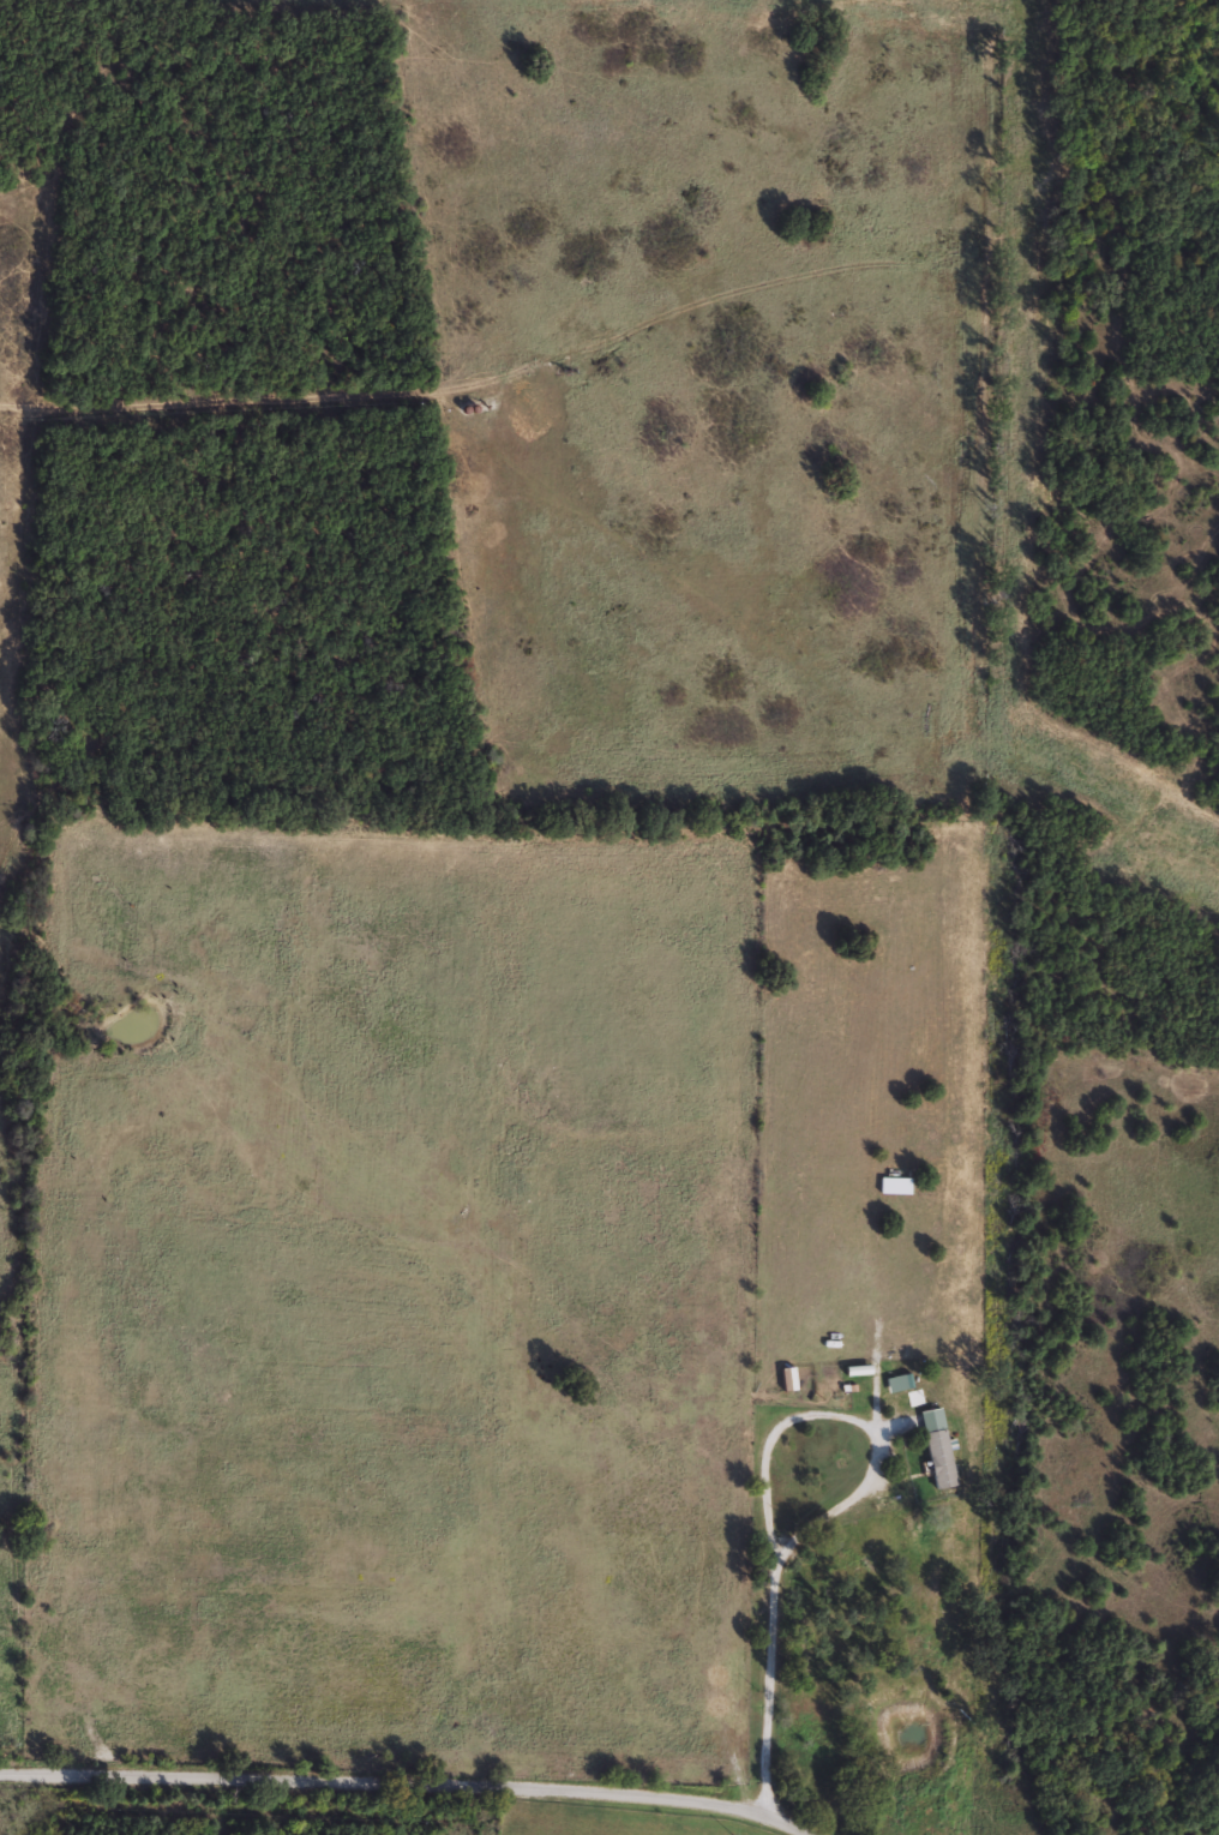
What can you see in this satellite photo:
building: (899, 1351)
building: (927, 1417)
building: (937, 1457)
road: (761, 1476)
road: (408, 1781)

